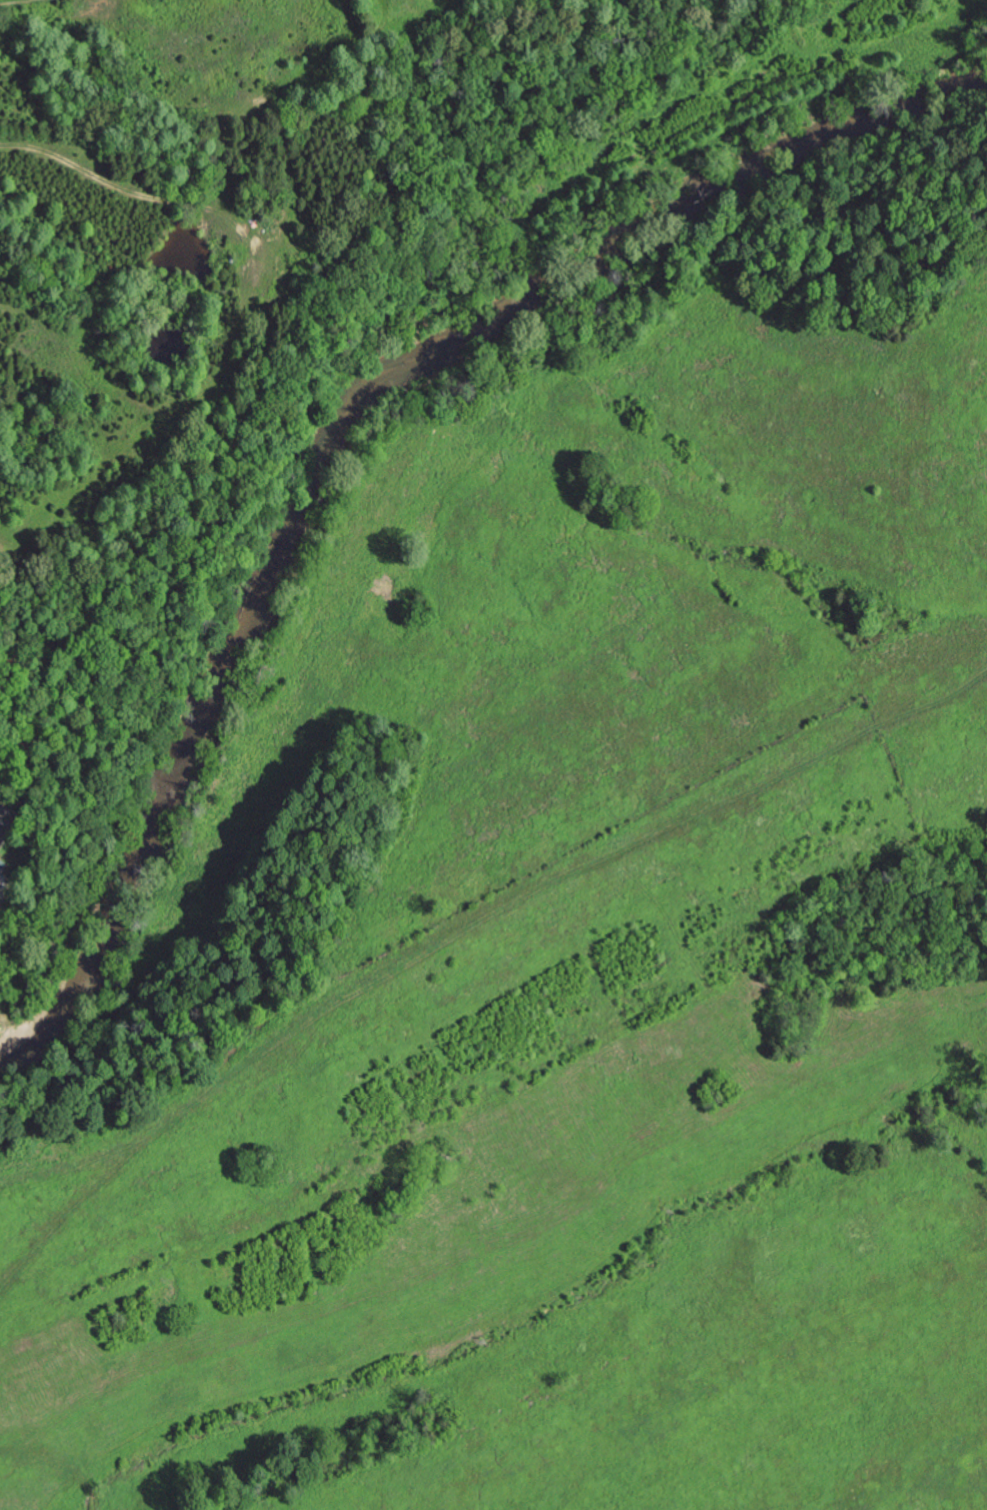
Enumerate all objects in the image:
road: (26, 5)
building: (1, 858)

